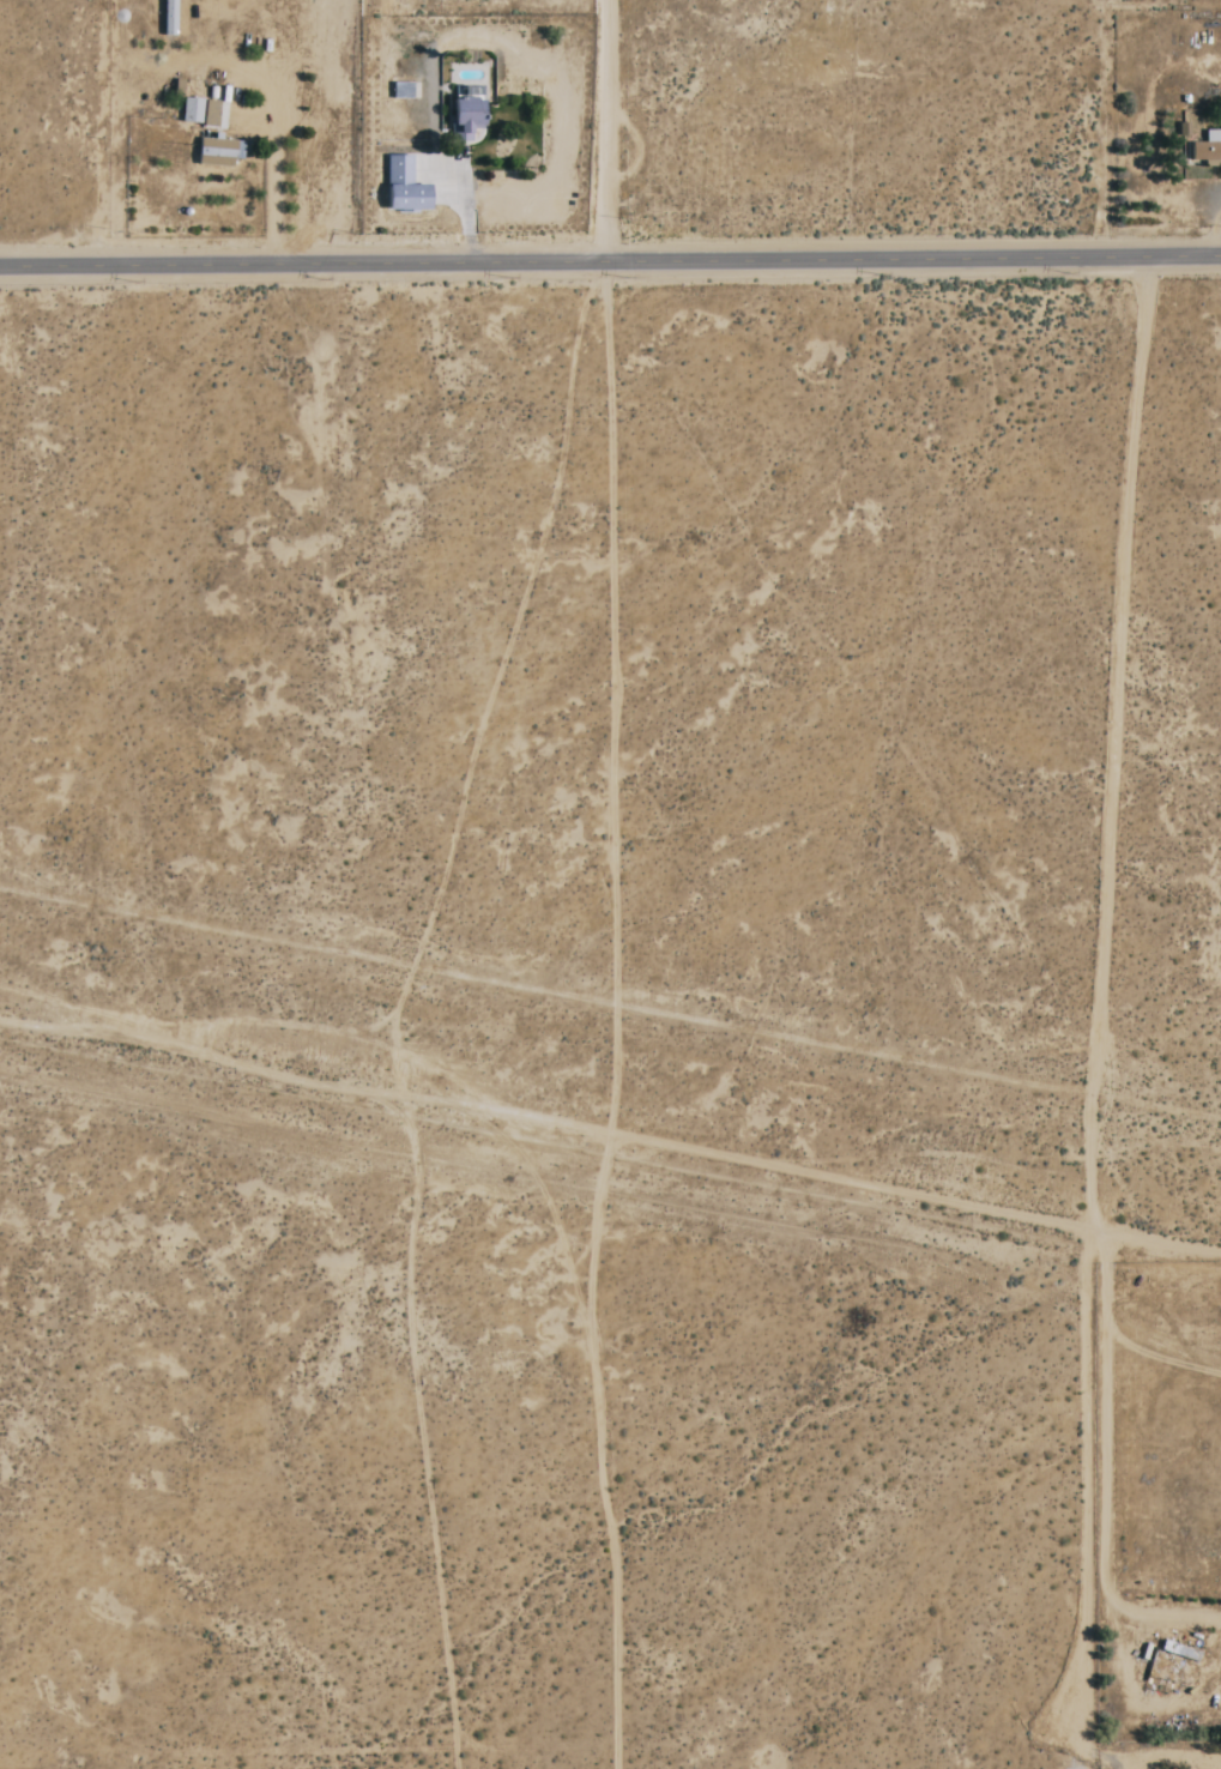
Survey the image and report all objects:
building: (191, 111)
building: (465, 119)
road: (608, 129)
building: (1208, 150)
building: (214, 153)
building: (404, 187)
road: (610, 258)
road: (1100, 1445)

